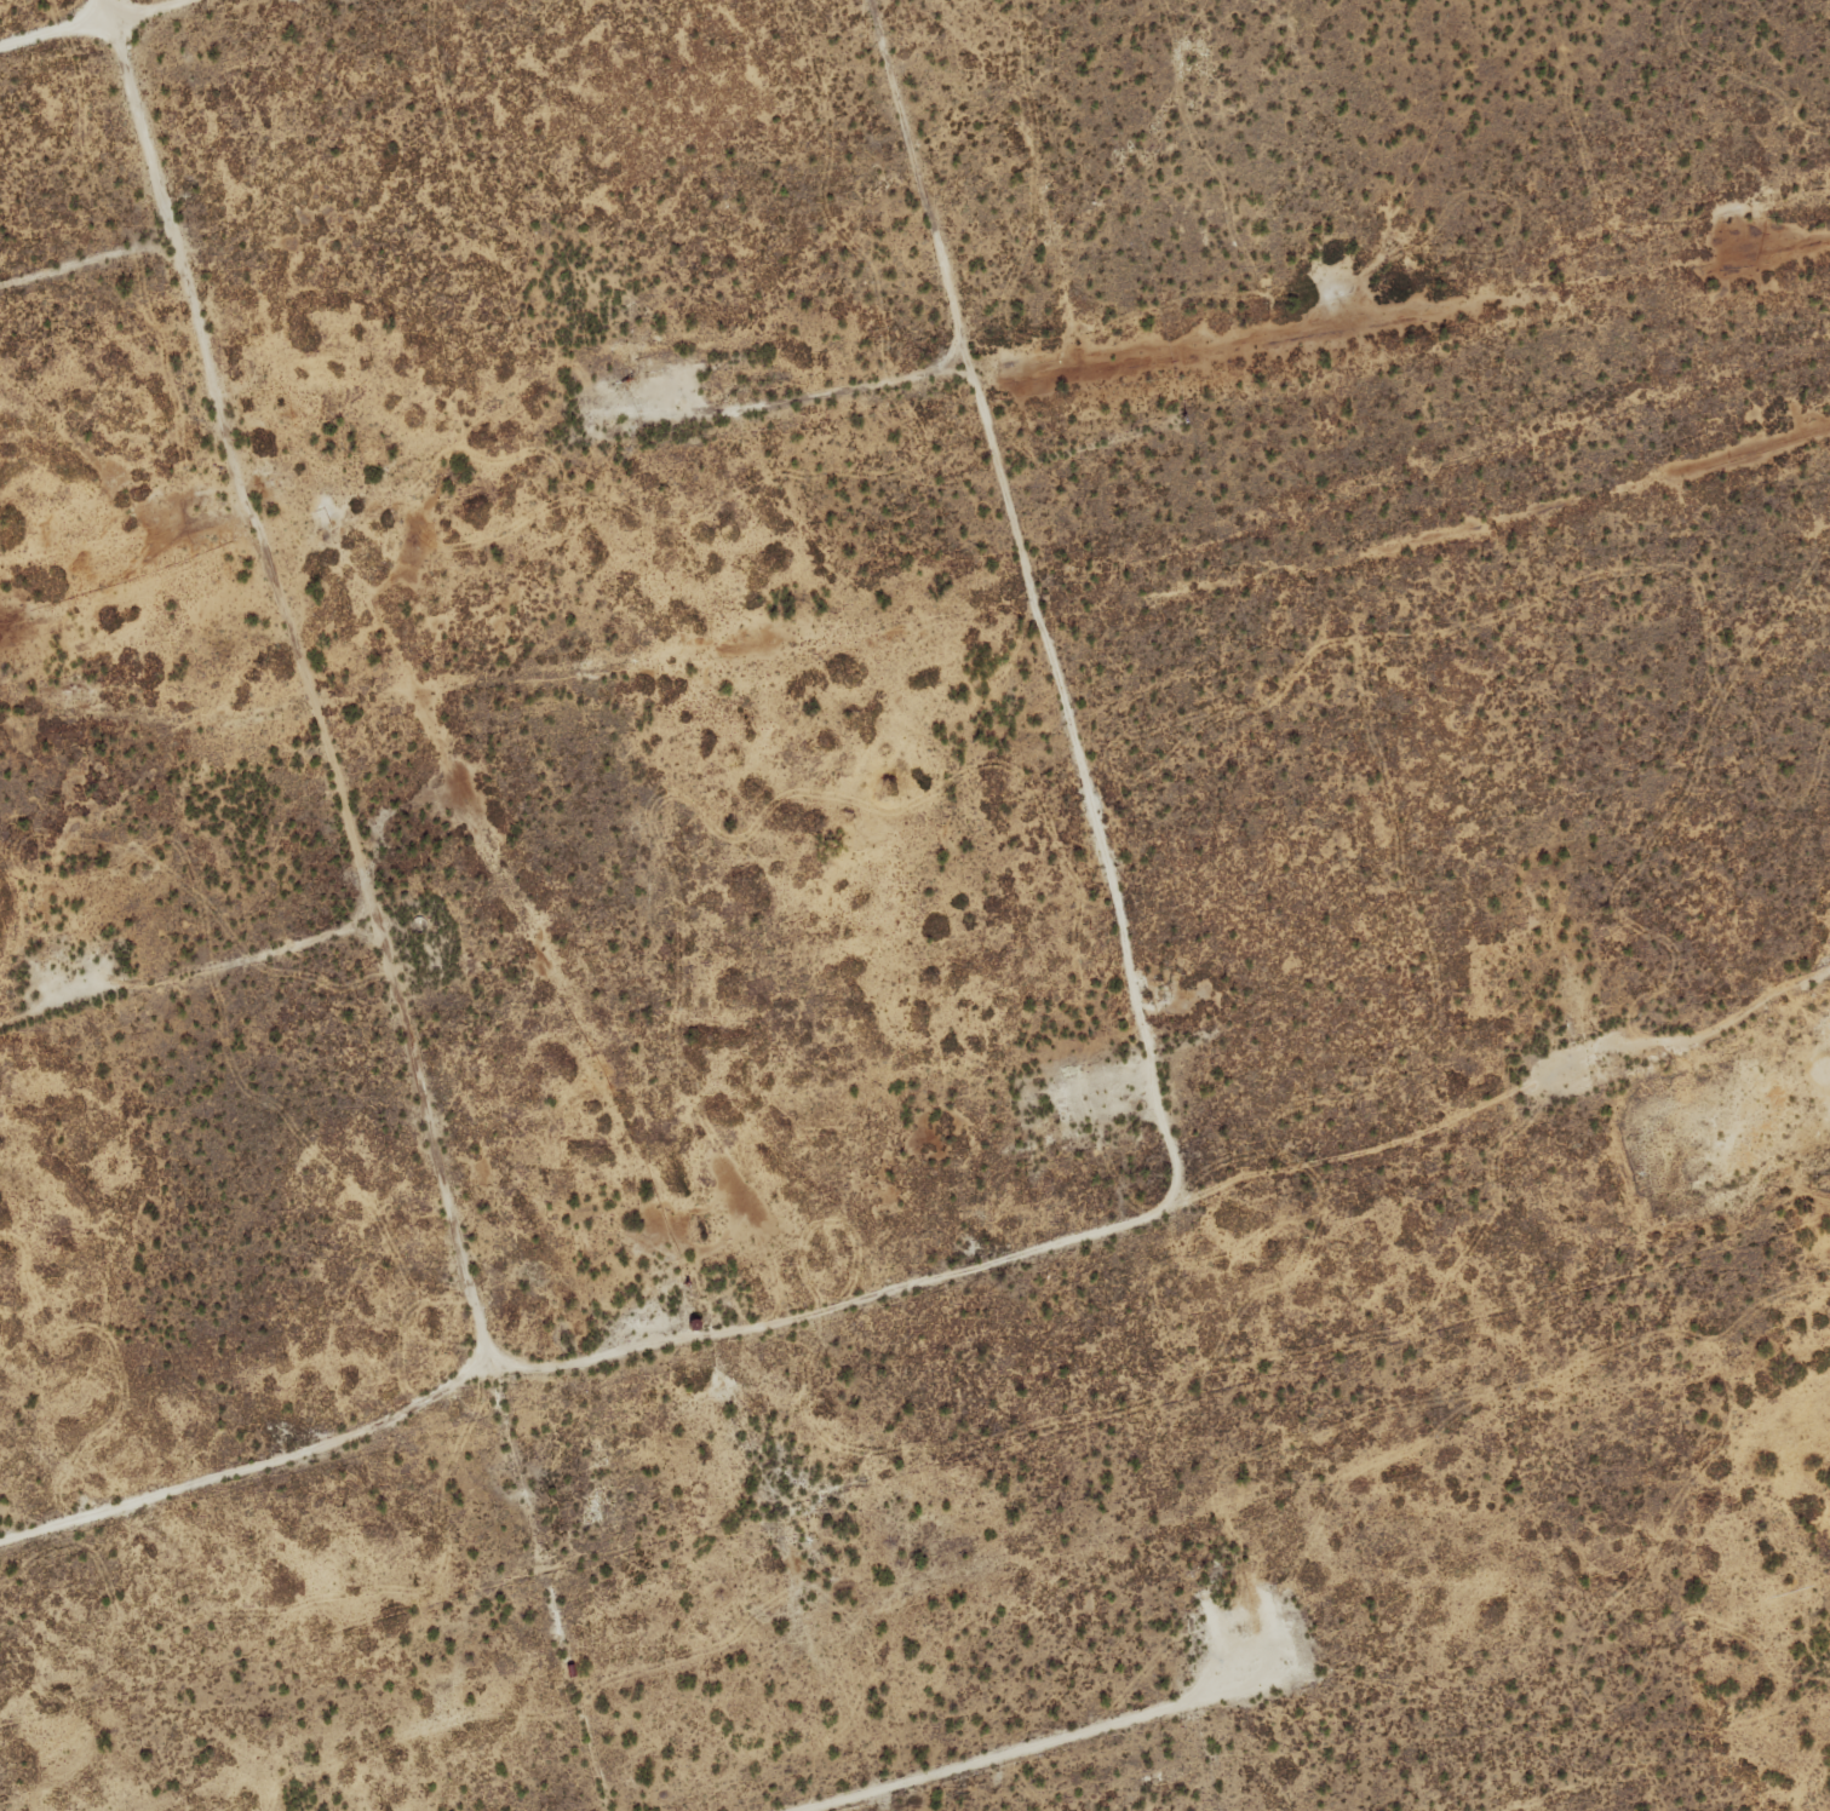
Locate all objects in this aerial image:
road: (92, 22)
road: (90, 259)
road: (971, 363)
road: (375, 901)
road: (190, 972)
road: (1700, 1039)
road: (897, 1282)
road: (265, 1464)
road: (1042, 1742)

